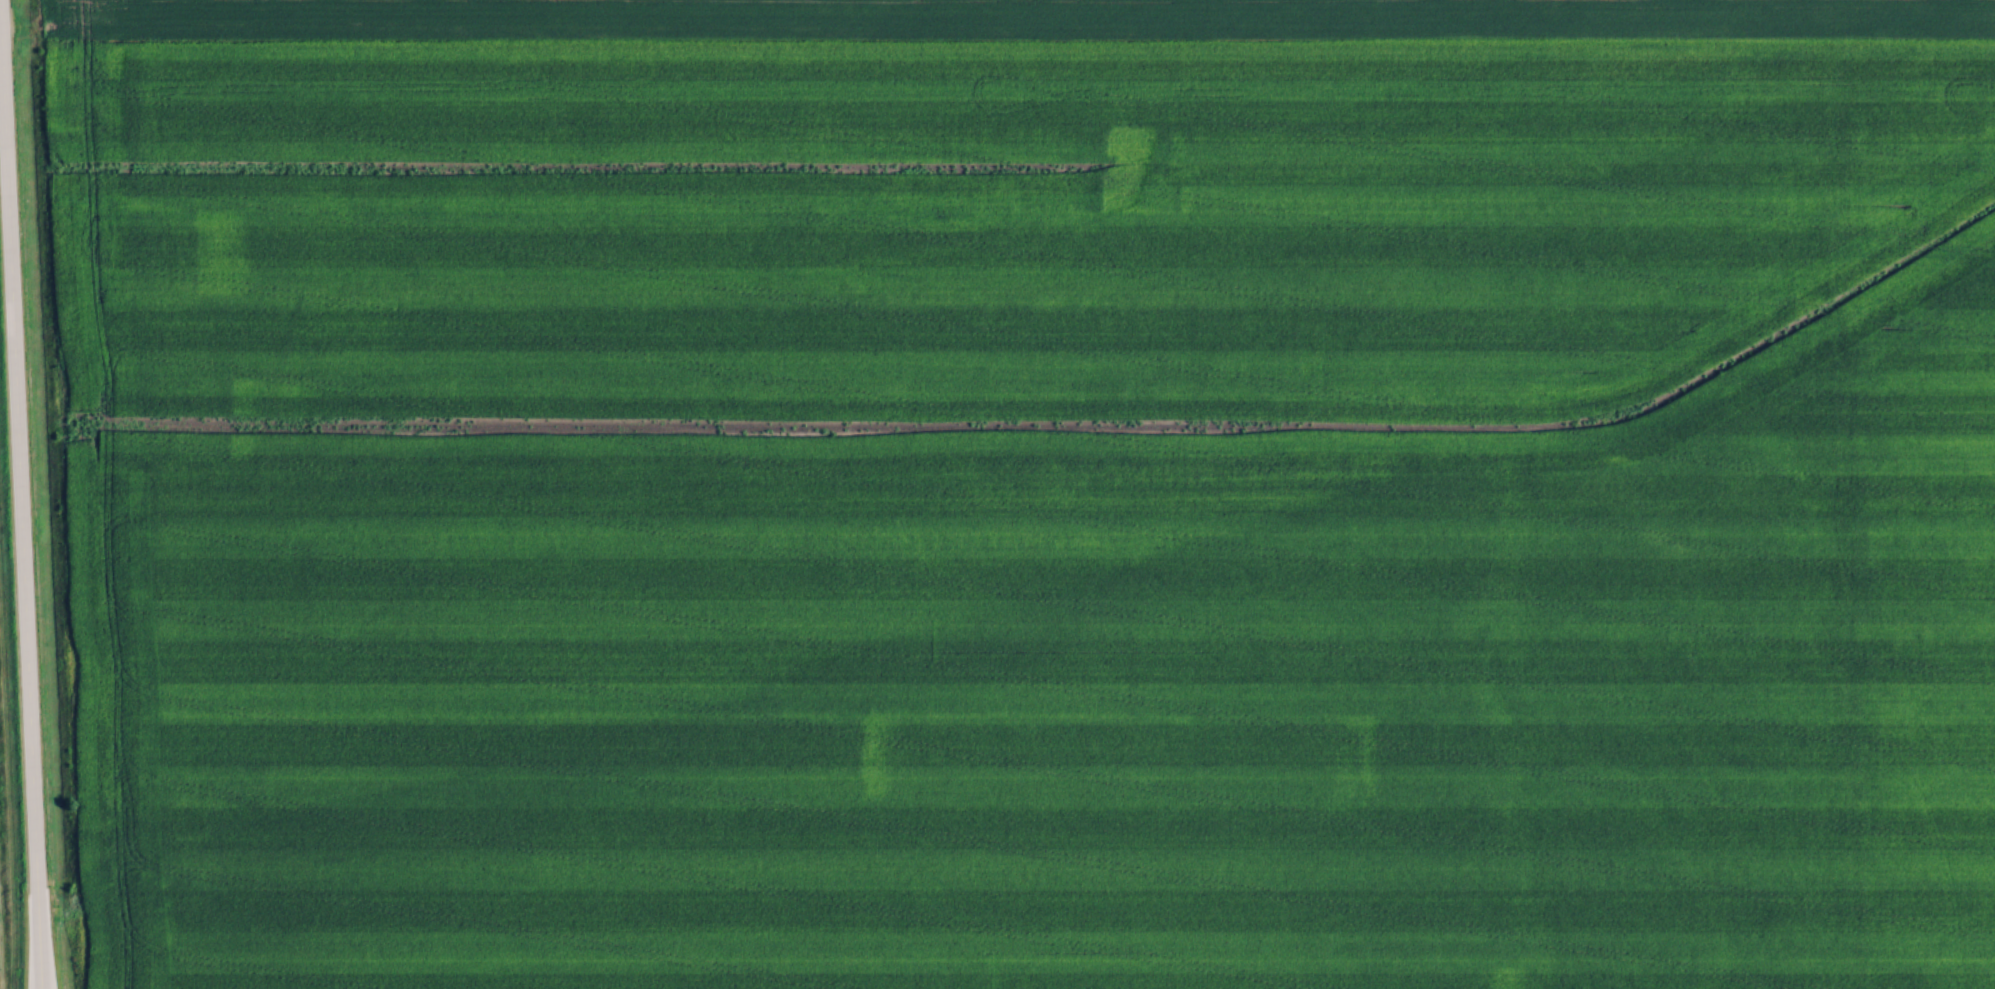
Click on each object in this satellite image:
road: (20, 511)

